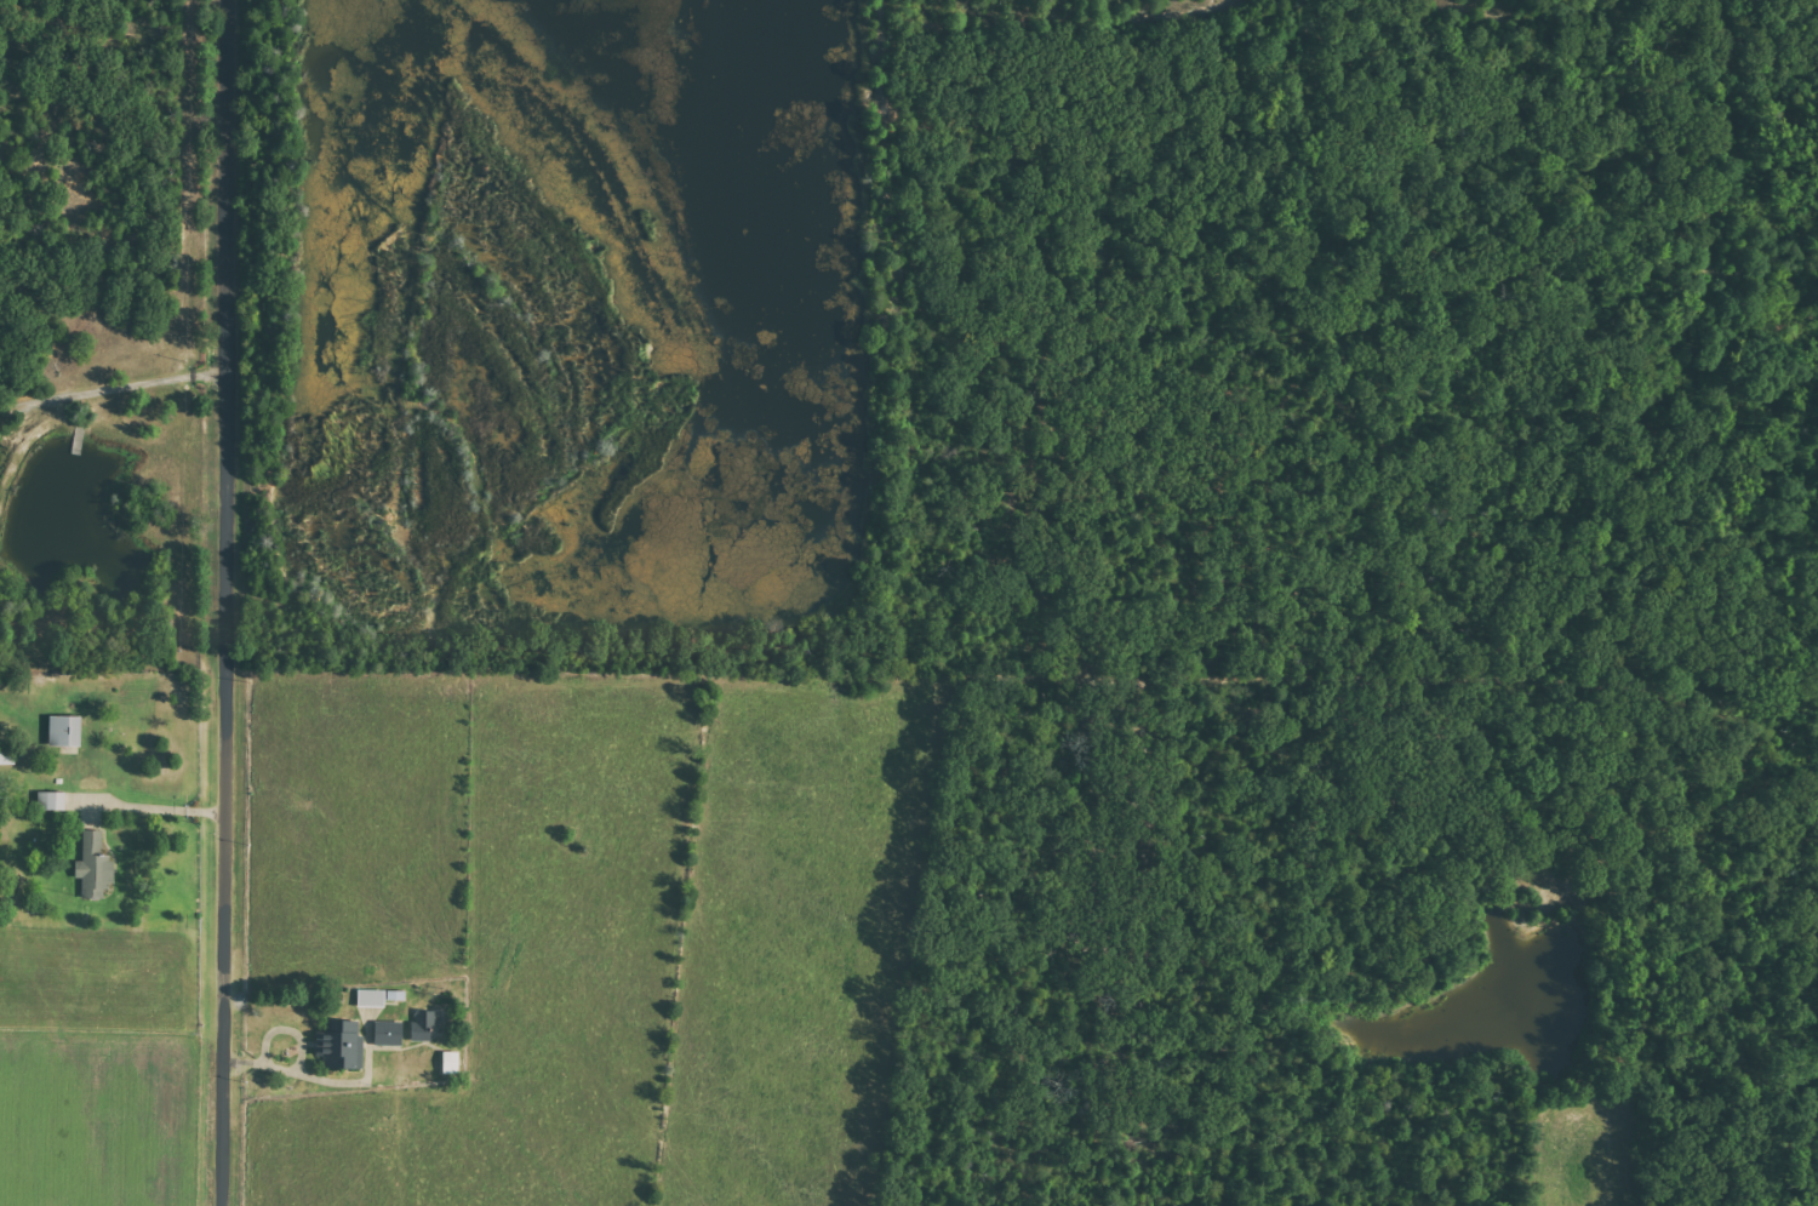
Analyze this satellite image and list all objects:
road: (110, 383)
road: (224, 602)
building: (65, 730)
building: (52, 800)
road: (164, 802)
building: (95, 867)
building: (395, 994)
building: (371, 998)
building: (424, 1024)
building: (389, 1033)
building: (342, 1044)
building: (452, 1062)

